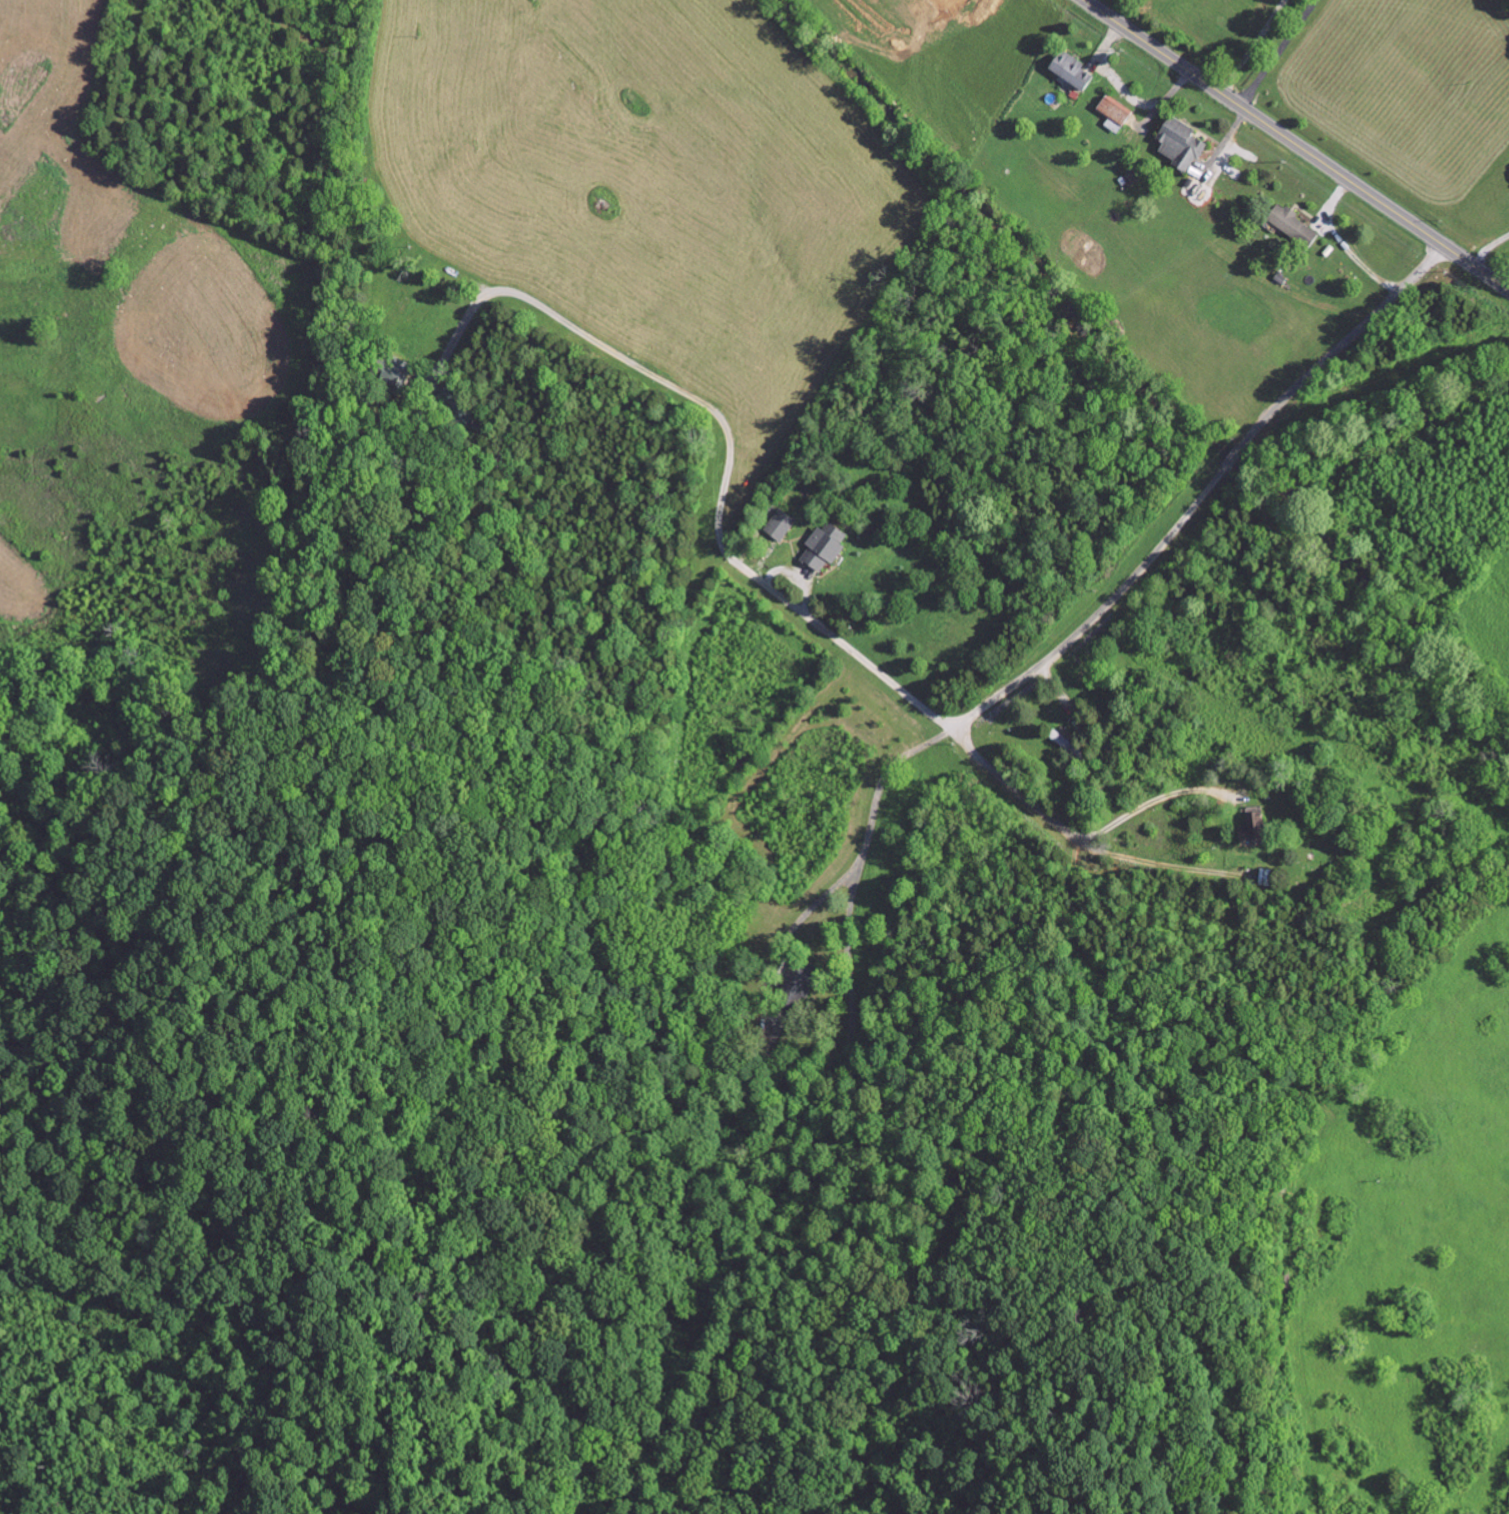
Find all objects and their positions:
road: (1252, 46)
road: (1278, 52)
building: (1071, 69)
building: (1113, 113)
building: (1180, 143)
road: (1297, 144)
building: (1293, 223)
road: (732, 470)
building: (780, 523)
building: (825, 544)
road: (1154, 556)
road: (1155, 798)
building: (1254, 824)
road: (870, 832)

